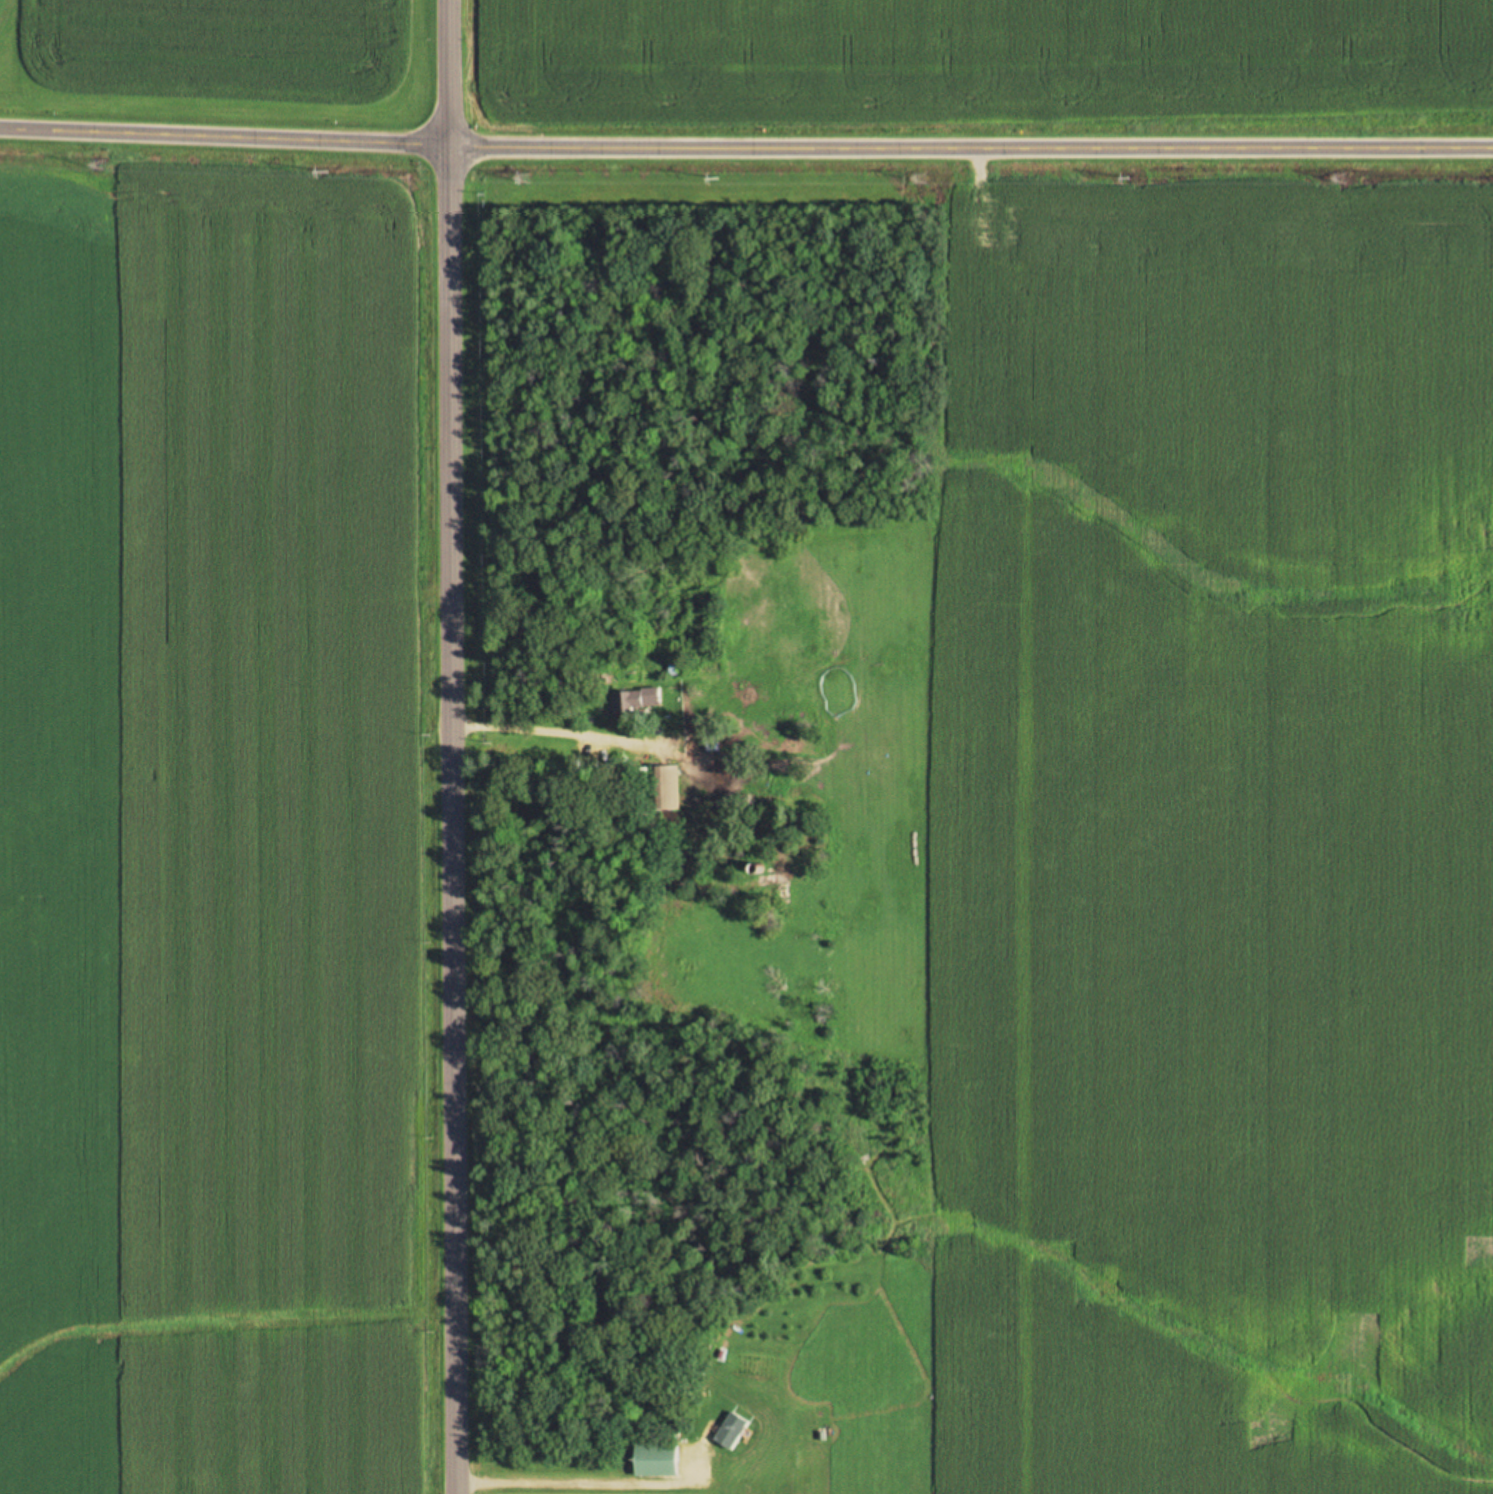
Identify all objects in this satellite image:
road: (746, 137)
power tower: (99, 167)
power tower: (523, 178)
power tower: (920, 179)
power tower: (1339, 179)
building: (637, 701)
building: (712, 743)
road: (449, 746)
building: (665, 789)
building: (731, 1431)
building: (656, 1461)

